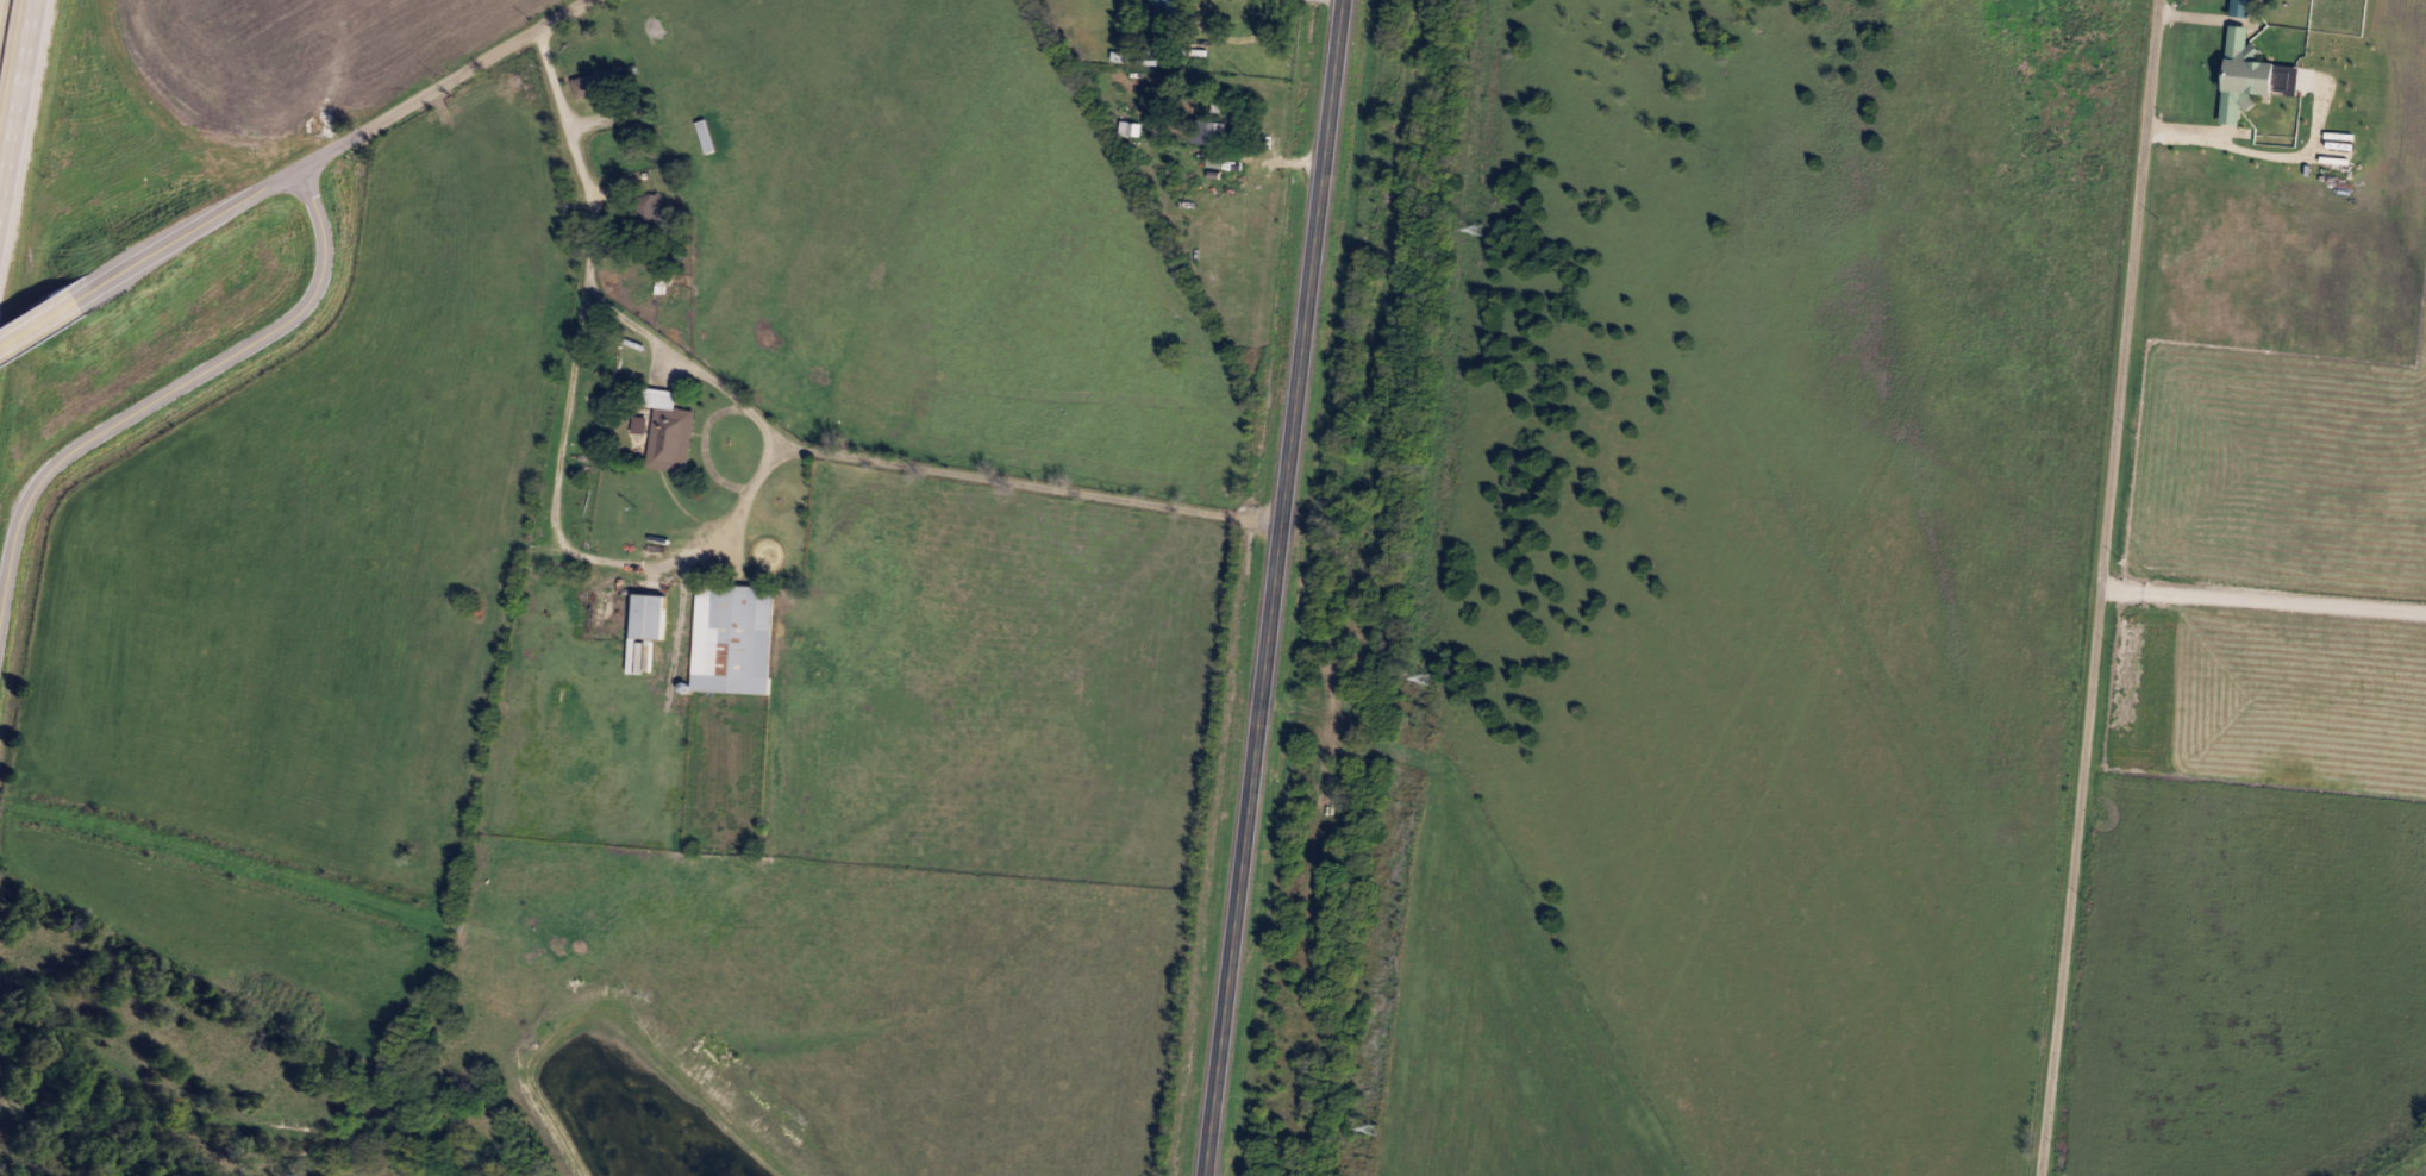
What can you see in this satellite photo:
building: (1165, 7)
building: (2240, 7)
building: (2243, 74)
road: (14, 80)
building: (592, 82)
building: (1130, 129)
building: (1208, 131)
road: (567, 132)
building: (705, 136)
road: (329, 148)
road: (2255, 155)
building: (648, 213)
power tower: (1477, 230)
road: (35, 313)
road: (688, 359)
road: (171, 390)
building: (668, 430)
road: (564, 433)
road: (962, 473)
road: (1274, 587)
railway: (1432, 588)
road: (2103, 588)
road: (2264, 602)
building: (648, 617)
building: (732, 639)
power tower: (1425, 680)
power tower: (1371, 1130)

